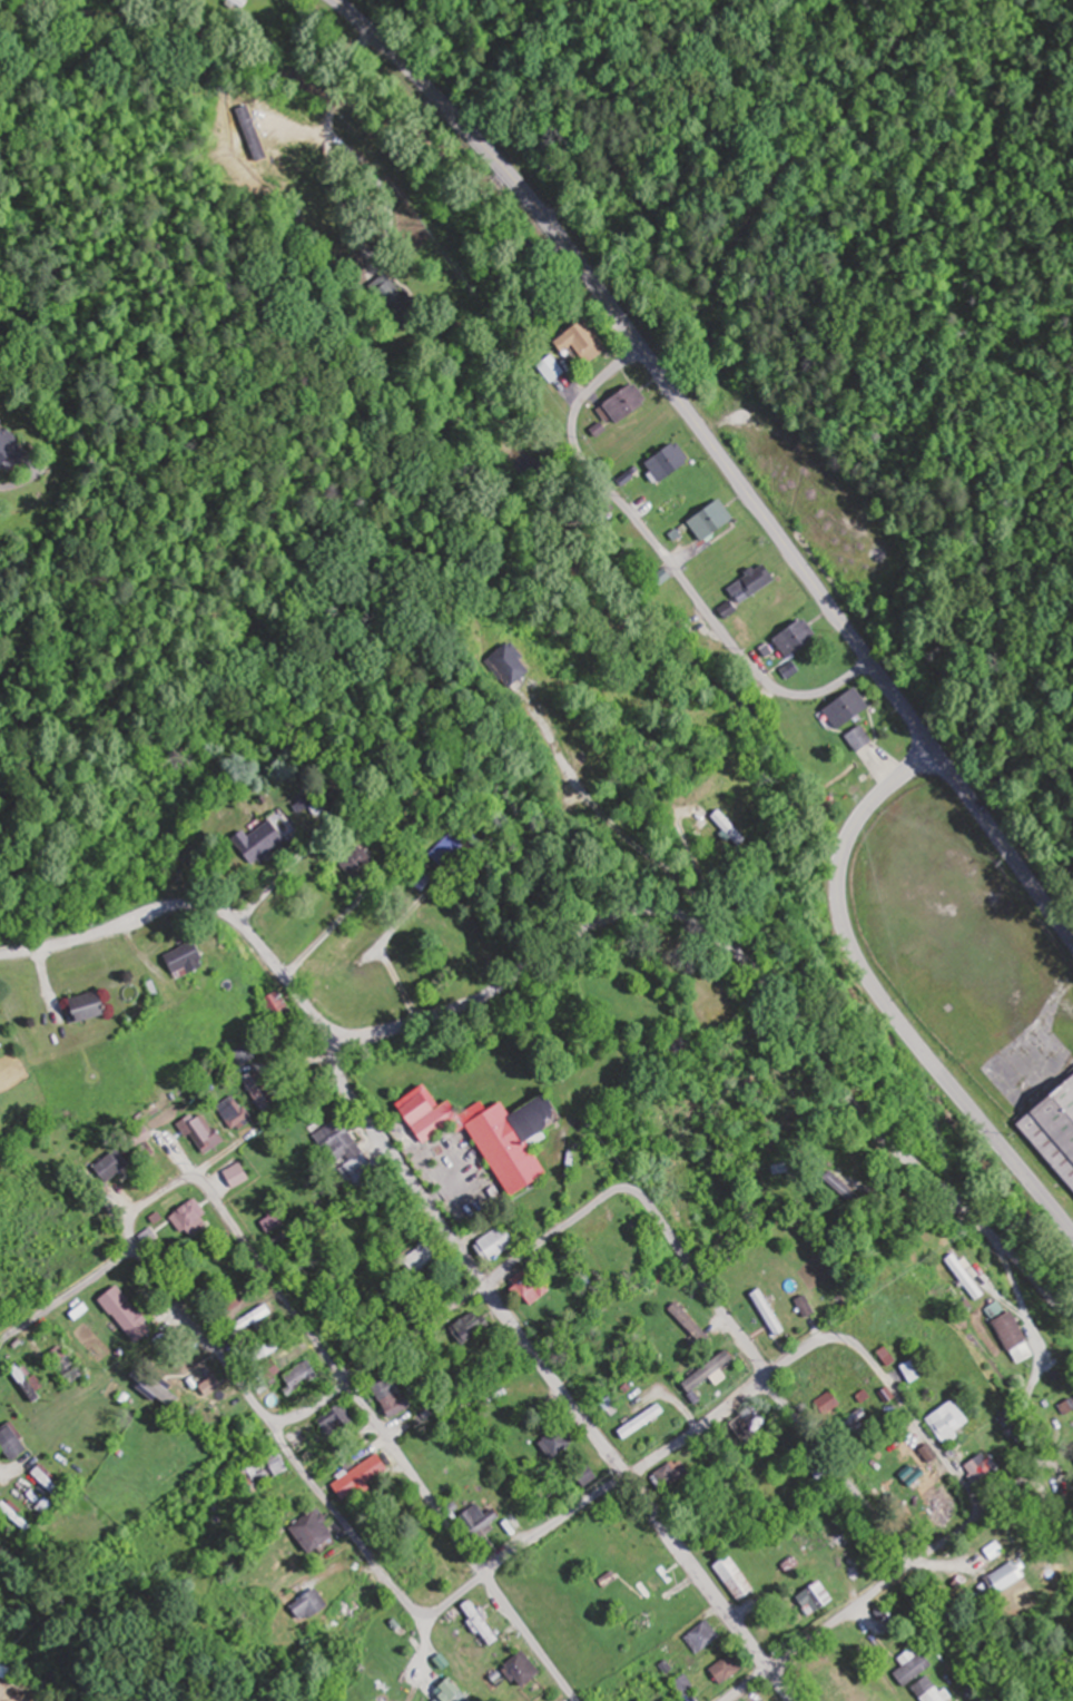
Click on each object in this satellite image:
building: (240, 3)
road: (346, 82)
building: (383, 293)
building: (588, 340)
building: (555, 371)
building: (627, 405)
building: (14, 449)
road: (719, 456)
building: (665, 461)
building: (708, 519)
road: (663, 560)
building: (661, 577)
building: (748, 583)
building: (685, 630)
building: (791, 637)
building: (508, 667)
building: (843, 707)
building: (787, 718)
building: (857, 738)
road: (875, 804)
building: (727, 827)
building: (254, 843)
building: (445, 848)
building: (356, 863)
road: (194, 907)
building: (179, 958)
road: (760, 973)
building: (275, 1005)
building: (95, 1006)
building: (243, 1053)
road: (934, 1064)
building: (256, 1089)
building: (230, 1112)
building: (1060, 1117)
building: (482, 1132)
building: (136, 1135)
building: (341, 1150)
building: (108, 1166)
building: (234, 1176)
road: (171, 1189)
building: (1072, 1190)
building: (187, 1218)
building: (491, 1243)
building: (599, 1253)
building: (420, 1259)
building: (959, 1268)
building: (526, 1285)
road: (76, 1289)
road: (475, 1291)
road: (68, 1296)
building: (226, 1300)
building: (803, 1306)
building: (765, 1312)
building: (121, 1314)
building: (686, 1323)
building: (466, 1326)
building: (1011, 1337)
building: (908, 1370)
building: (701, 1371)
road: (549, 1374)
building: (658, 1374)
building: (29, 1383)
road: (755, 1384)
building: (156, 1389)
building: (508, 1392)
building: (386, 1397)
building: (603, 1404)
road: (784, 1404)
building: (825, 1404)
building: (329, 1418)
building: (850, 1420)
building: (943, 1423)
building: (741, 1424)
road: (1041, 1433)
road: (388, 1438)
building: (14, 1442)
road: (284, 1442)
building: (554, 1443)
building: (976, 1468)
road: (4, 1469)
building: (255, 1472)
building: (671, 1474)
building: (356, 1476)
building: (583, 1476)
building: (50, 1481)
building: (0, 1492)
building: (548, 1493)
building: (932, 1506)
building: (475, 1521)
building: (306, 1531)
building: (439, 1564)
road: (909, 1567)
building: (729, 1577)
building: (1001, 1579)
building: (650, 1583)
building: (810, 1597)
building: (303, 1606)
building: (478, 1622)
building: (699, 1636)
building: (886, 1652)
building: (518, 1669)
building: (721, 1669)
building: (681, 1685)
building: (924, 1691)
building: (443, 1692)

